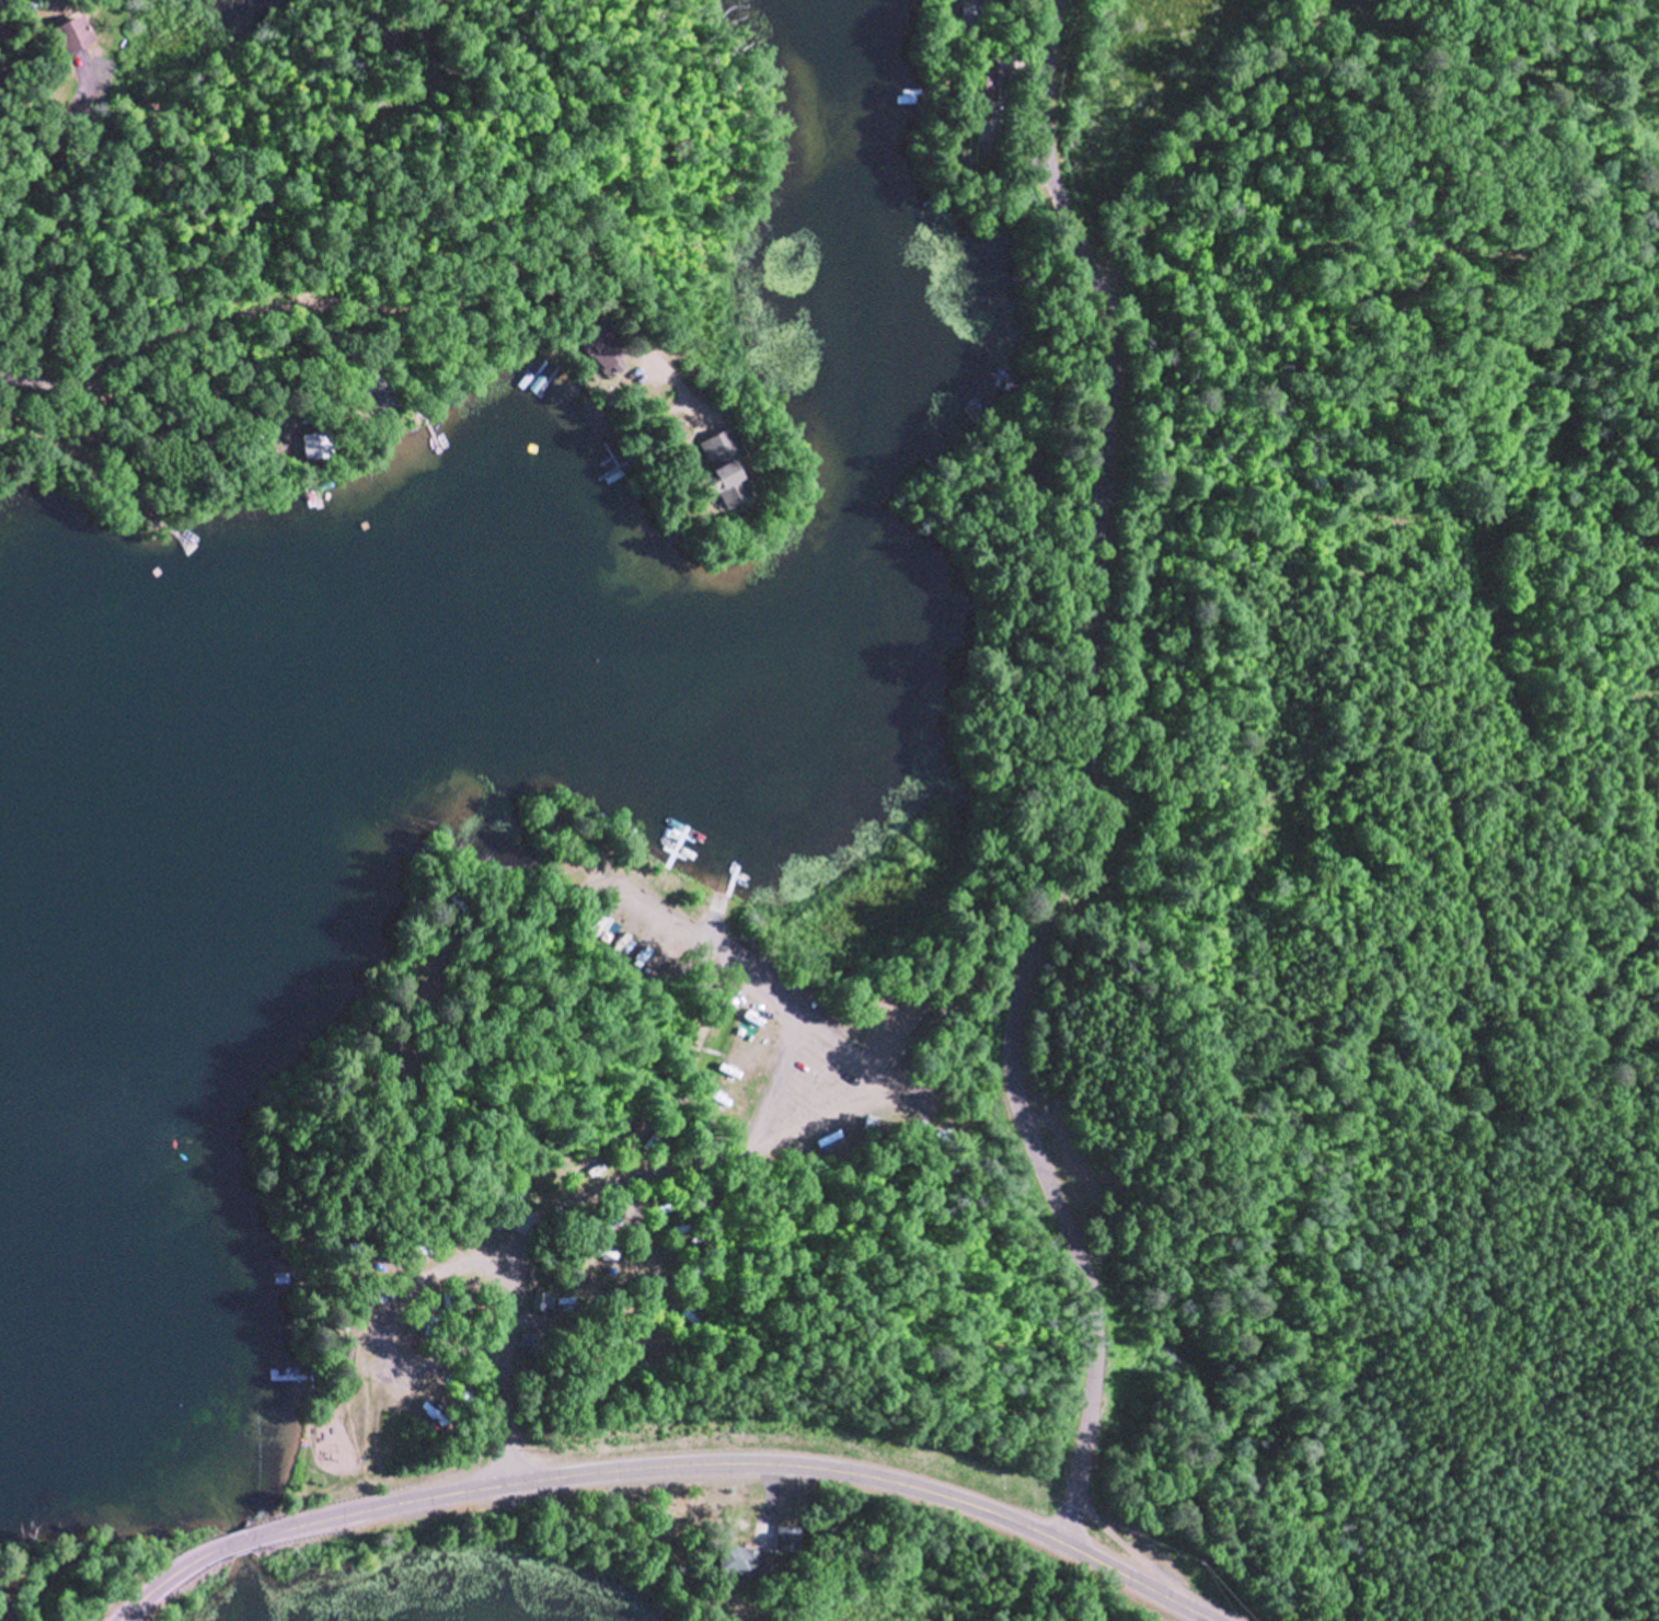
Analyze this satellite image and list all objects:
building: (967, 13)
building: (125, 15)
building: (2, 32)
building: (65, 32)
building: (385, 36)
building: (976, 79)
building: (46, 84)
building: (19, 136)
road: (1219, 137)
road: (353, 288)
building: (596, 344)
building: (373, 384)
road: (12, 409)
building: (192, 429)
building: (313, 442)
building: (162, 450)
building: (714, 474)
building: (1037, 476)
road: (1094, 783)
road: (664, 1166)
building: (509, 1208)
building: (538, 1300)
building: (530, 1342)
road: (821, 1469)
road: (278, 1528)
building: (787, 1538)
building: (744, 1561)
road: (139, 1599)
building: (14, 1620)

